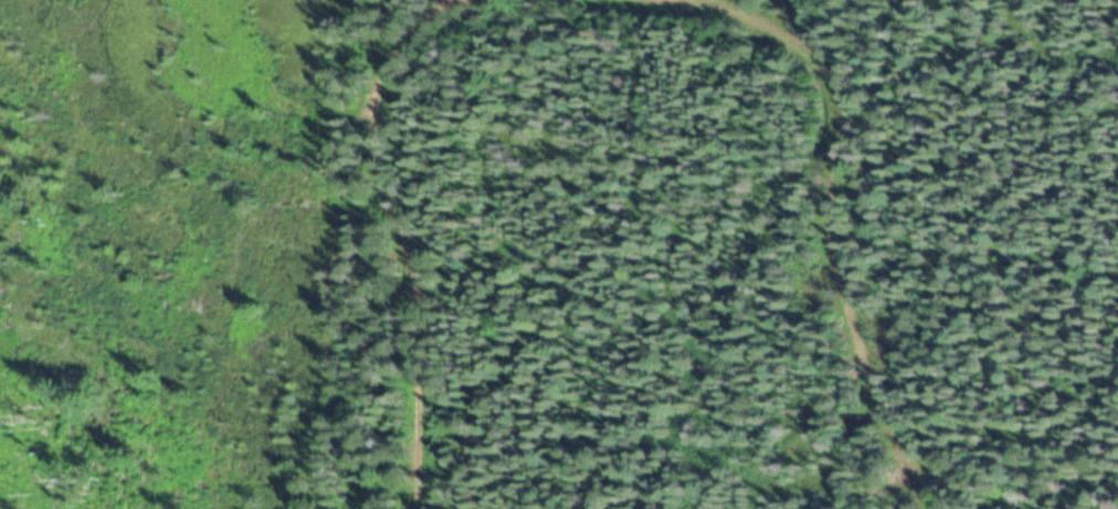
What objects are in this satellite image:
road: (388, 225)
road: (845, 230)

